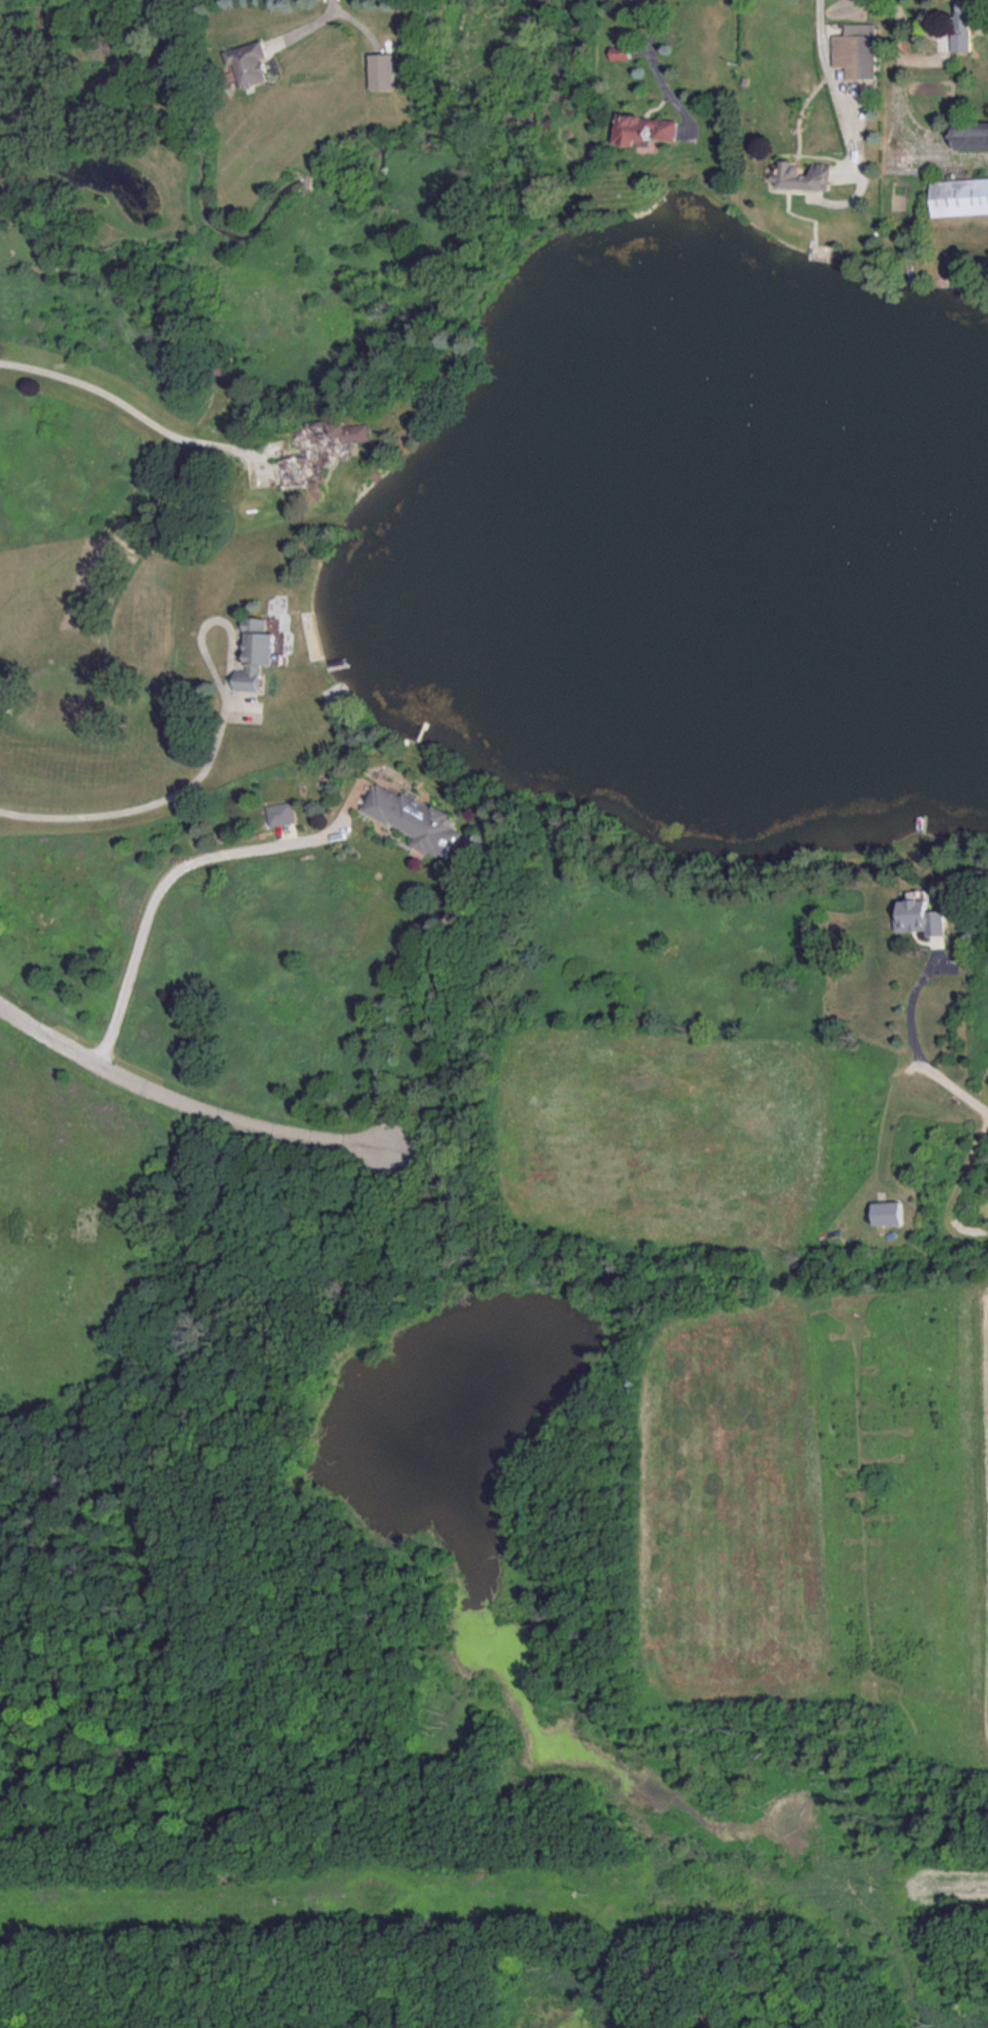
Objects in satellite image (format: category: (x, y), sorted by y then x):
building: (970, 22)
road: (303, 23)
building: (625, 50)
building: (858, 50)
building: (251, 63)
road: (658, 69)
building: (385, 70)
road: (826, 71)
road: (904, 108)
building: (649, 129)
building: (974, 137)
building: (807, 175)
building: (962, 196)
road: (129, 400)
building: (320, 452)
building: (260, 652)
road: (144, 804)
building: (416, 820)
road: (178, 868)
building: (920, 915)
road: (927, 1041)
road: (186, 1099)
road: (894, 1113)
building: (890, 1213)

